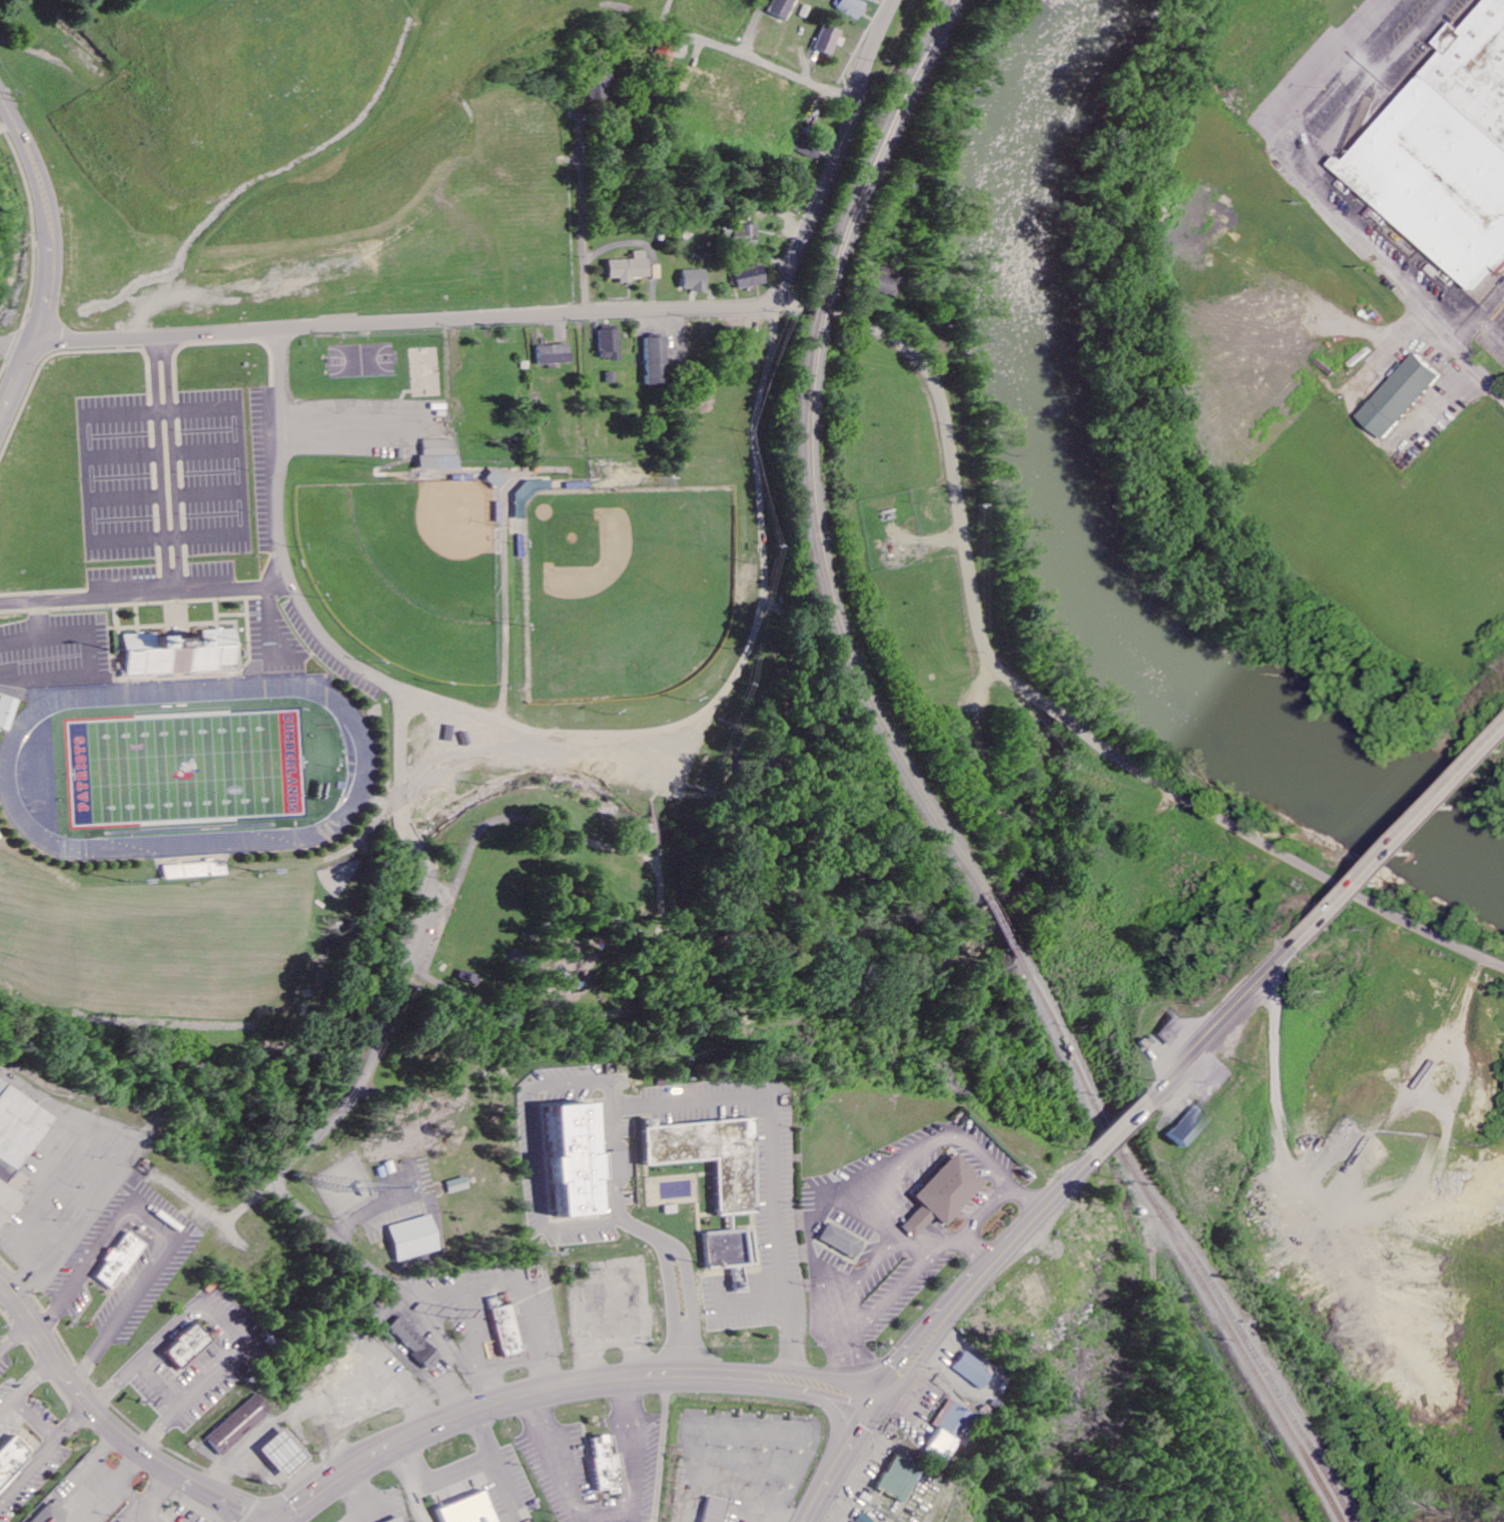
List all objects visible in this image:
building: (781, 8)
building: (851, 8)
road: (642, 10)
road: (207, 26)
road: (755, 28)
building: (829, 40)
road: (749, 58)
building: (602, 85)
building: (812, 149)
railway: (881, 149)
road: (844, 156)
building: (1450, 160)
road: (1328, 198)
road: (585, 207)
road: (58, 215)
building: (750, 235)
building: (631, 268)
building: (657, 272)
building: (753, 277)
building: (696, 280)
building: (889, 281)
railway: (823, 311)
road: (1482, 319)
road: (424, 323)
building: (611, 344)
road: (8, 348)
road: (25, 348)
building: (556, 354)
park: (362, 361)
building: (658, 361)
park: (428, 374)
building: (613, 378)
road: (16, 379)
building: (1408, 396)
building: (441, 455)
river: (1069, 532)
road: (160, 549)
park: (407, 574)
road: (231, 591)
park: (628, 591)
building: (181, 650)
road: (412, 704)
building: (8, 712)
road: (1056, 717)
road: (562, 735)
track: (186, 766)
park: (185, 767)
park: (792, 796)
road: (1401, 838)
park: (577, 941)
railway: (1003, 943)
road: (423, 951)
road: (679, 952)
road: (703, 986)
road: (754, 1019)
road: (1223, 1021)
building: (1170, 1027)
road: (355, 1090)
road: (607, 1105)
building: (1190, 1123)
road: (1119, 1128)
building: (19, 1150)
building: (583, 1163)
building: (710, 1184)
building: (464, 1186)
building: (945, 1196)
road: (60, 1236)
building: (420, 1239)
building: (843, 1241)
building: (119, 1263)
road: (978, 1277)
building: (1037, 1288)
road: (226, 1321)
building: (508, 1329)
road: (14, 1334)
building: (417, 1343)
road: (47, 1344)
building: (194, 1349)
building: (971, 1372)
road: (35, 1378)
road: (115, 1383)
road: (160, 1385)
road: (561, 1391)
road: (6, 1404)
road: (35, 1419)
road: (76, 1422)
building: (241, 1425)
road: (164, 1427)
building: (947, 1431)
road: (659, 1450)
building: (287, 1454)
road: (837, 1462)
building: (605, 1465)
building: (14, 1466)
road: (176, 1468)
road: (29, 1473)
building: (897, 1478)
road: (408, 1481)
building: (470, 1510)
building: (717, 1511)
building: (55, 1515)
road: (610, 1515)
building: (399, 1520)

